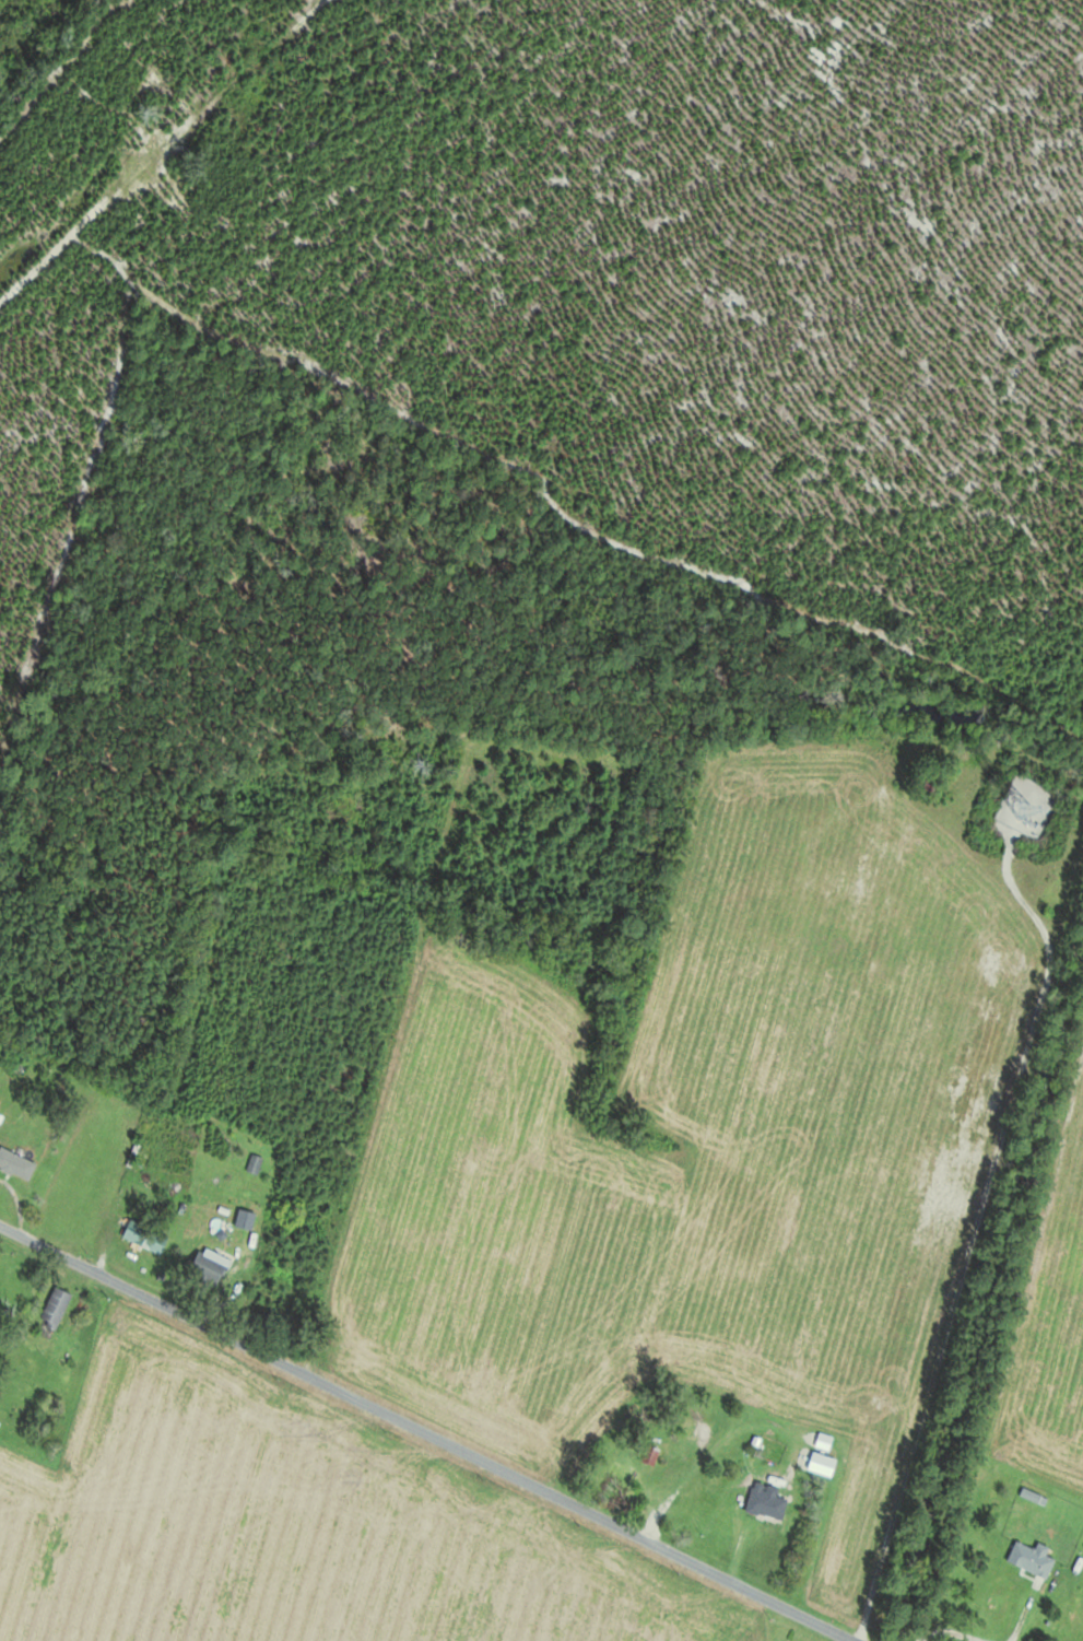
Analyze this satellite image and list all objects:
building: (16, 1163)
building: (146, 1236)
building: (210, 1266)
building: (56, 1309)
road: (425, 1432)
building: (767, 1503)
road: (893, 1522)
building: (1032, 1558)

